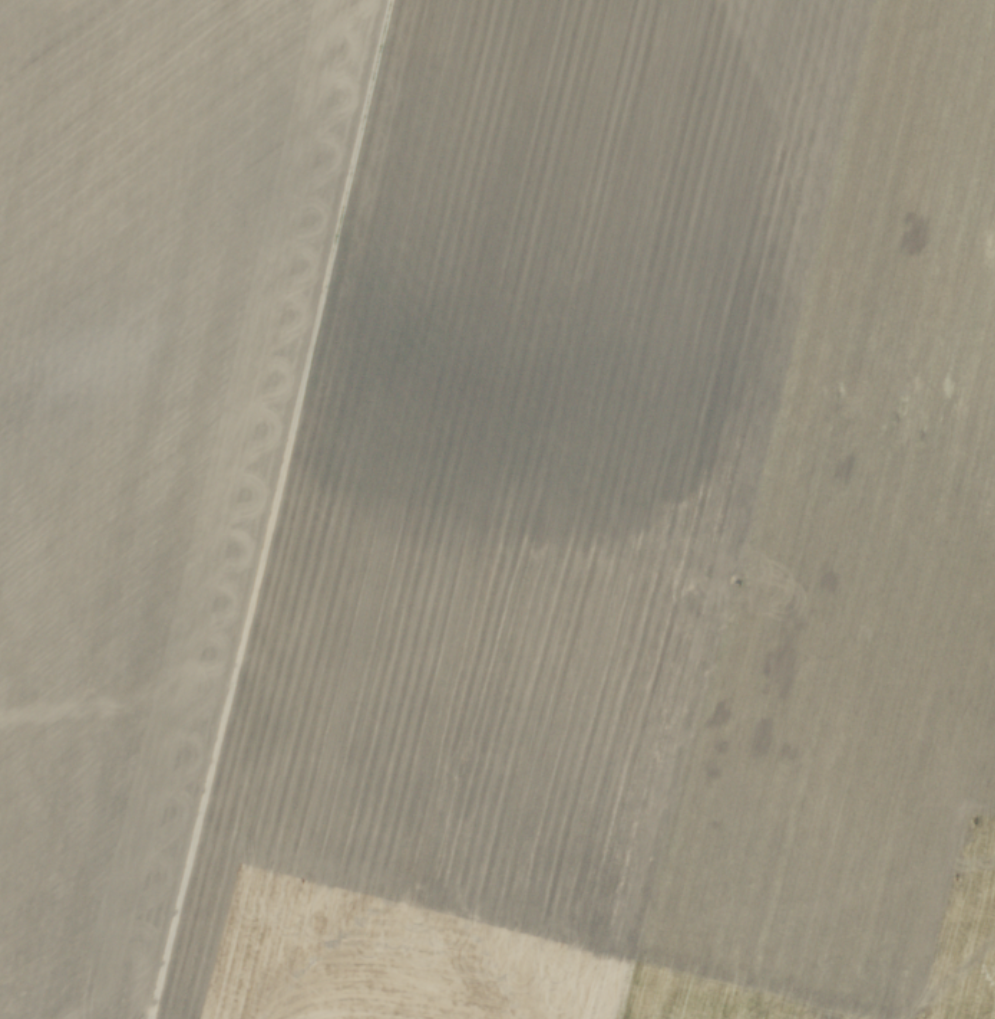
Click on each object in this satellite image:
road: (267, 510)
road: (979, 845)
road: (986, 879)
road: (967, 918)
road: (247, 944)
road: (971, 949)
road: (218, 956)
road: (532, 957)
road: (271, 966)
park: (982, 969)
road: (426, 983)
road: (581, 983)

